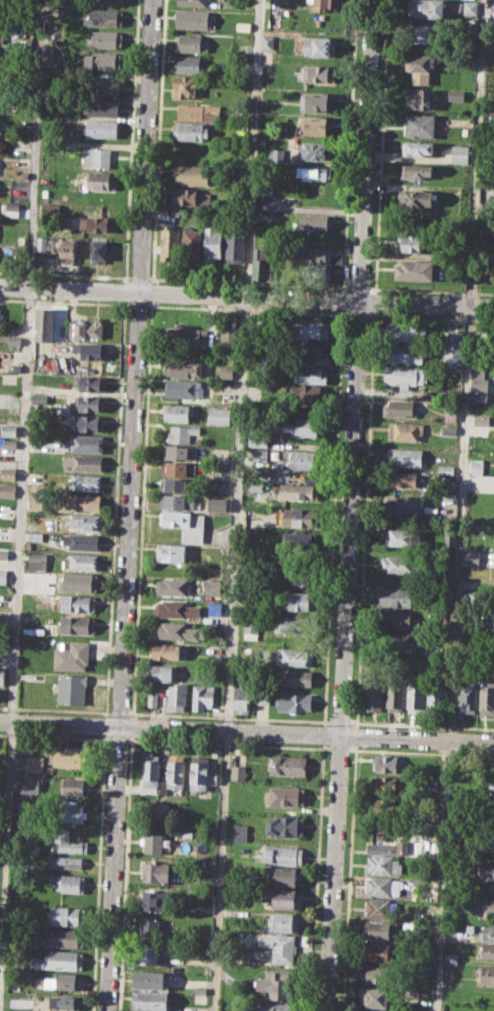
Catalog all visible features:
building: (106, 2)
building: (191, 2)
building: (325, 5)
building: (426, 8)
building: (470, 8)
building: (0, 11)
building: (105, 17)
building: (193, 19)
building: (273, 20)
building: (242, 26)
building: (3, 33)
building: (423, 33)
building: (105, 38)
building: (267, 41)
building: (190, 43)
building: (319, 46)
building: (102, 60)
building: (190, 64)
building: (422, 67)
building: (315, 73)
building: (268, 74)
building: (103, 84)
building: (186, 87)
building: (456, 95)
building: (418, 97)
building: (317, 101)
building: (101, 106)
building: (196, 112)
building: (420, 125)
building: (100, 127)
building: (317, 127)
building: (192, 132)
road: (131, 141)
road: (348, 145)
road: (381, 146)
building: (418, 148)
building: (315, 151)
building: (277, 154)
building: (460, 154)
building: (97, 157)
building: (417, 170)
building: (315, 172)
building: (191, 174)
building: (101, 180)
building: (191, 197)
building: (417, 199)
building: (12, 210)
building: (317, 222)
building: (97, 223)
building: (489, 225)
building: (169, 242)
building: (42, 243)
building: (414, 243)
building: (191, 244)
building: (212, 244)
building: (235, 246)
building: (67, 251)
building: (100, 251)
building: (314, 254)
building: (261, 261)
building: (416, 269)
building: (314, 272)
road: (64, 274)
road: (139, 278)
road: (250, 282)
road: (359, 288)
road: (124, 290)
road: (431, 290)
road: (246, 296)
road: (342, 299)
road: (63, 301)
road: (374, 301)
road: (136, 304)
road: (247, 308)
building: (0, 312)
road: (357, 313)
road: (430, 316)
building: (44, 324)
building: (85, 329)
building: (313, 330)
building: (403, 330)
building: (229, 335)
building: (186, 337)
building: (453, 347)
building: (93, 352)
building: (311, 352)
building: (404, 353)
building: (185, 367)
building: (227, 371)
building: (311, 375)
building: (405, 375)
building: (478, 378)
building: (90, 383)
building: (185, 388)
building: (305, 396)
building: (39, 397)
building: (480, 397)
building: (89, 403)
building: (399, 408)
building: (178, 412)
building: (449, 413)
building: (220, 415)
building: (481, 420)
building: (89, 422)
building: (304, 426)
building: (448, 429)
building: (8, 430)
building: (405, 430)
building: (181, 433)
building: (259, 437)
building: (10, 443)
building: (87, 443)
building: (176, 452)
building: (260, 456)
building: (403, 457)
building: (303, 459)
building: (83, 462)
building: (475, 466)
building: (176, 468)
building: (446, 469)
building: (7, 473)
building: (401, 478)
building: (85, 482)
building: (176, 484)
building: (6, 491)
building: (299, 491)
road: (20, 492)
building: (35, 500)
building: (176, 501)
building: (81, 502)
building: (218, 504)
road: (129, 505)
road: (236, 505)
road: (349, 505)
road: (460, 505)
building: (404, 506)
road: (114, 507)
building: (6, 511)
building: (299, 516)
road: (332, 516)
road: (365, 518)
building: (84, 522)
building: (185, 523)
building: (35, 535)
building: (397, 537)
building: (80, 541)
building: (299, 541)
building: (170, 552)
building: (4, 553)
building: (471, 557)
building: (37, 561)
building: (81, 561)
building: (396, 564)
building: (3, 576)
building: (295, 577)
building: (80, 582)
building: (173, 586)
building: (212, 586)
building: (30, 595)
building: (397, 597)
building: (299, 600)
building: (78, 603)
building: (215, 605)
building: (175, 609)
building: (395, 618)
building: (487, 619)
building: (78, 625)
building: (294, 625)
building: (250, 627)
building: (177, 630)
building: (395, 638)
building: (164, 651)
building: (72, 656)
building: (294, 656)
building: (161, 672)
building: (1, 675)
building: (295, 678)
building: (71, 688)
building: (176, 696)
building: (262, 696)
building: (374, 696)
building: (394, 696)
building: (415, 696)
building: (201, 697)
building: (467, 698)
building: (152, 699)
building: (435, 699)
building: (487, 699)
building: (241, 700)
building: (295, 701)
road: (55, 709)
road: (119, 712)
road: (229, 717)
road: (340, 722)
road: (104, 725)
road: (421, 725)
road: (247, 730)
road: (322, 733)
road: (355, 735)
building: (71, 756)
building: (34, 763)
building: (387, 763)
building: (288, 765)
building: (175, 771)
building: (237, 772)
building: (150, 773)
building: (201, 774)
building: (28, 783)
building: (390, 785)
building: (72, 786)
building: (490, 786)
building: (286, 796)
building: (22, 809)
building: (163, 810)
building: (71, 812)
building: (491, 812)
building: (285, 825)
building: (240, 832)
building: (491, 836)
building: (66, 841)
building: (153, 842)
building: (403, 845)
building: (381, 846)
building: (283, 854)
building: (65, 861)
building: (384, 864)
building: (484, 869)
building: (155, 871)
road: (98, 872)
building: (287, 876)
road: (316, 876)
road: (349, 877)
building: (69, 883)
building: (382, 886)
building: (286, 898)
building: (157, 900)
building: (485, 905)
building: (382, 908)
building: (65, 915)
building: (285, 921)
building: (149, 928)
building: (379, 930)
building: (487, 933)
building: (62, 937)
building: (279, 946)
building: (378, 951)
building: (486, 951)
building: (146, 954)
building: (451, 958)
building: (59, 960)
building: (486, 973)
building: (378, 974)
building: (148, 978)
building: (62, 981)
building: (275, 985)
building: (200, 989)
building: (376, 997)
building: (199, 999)
building: (150, 1000)
building: (63, 1002)
building: (272, 1006)

